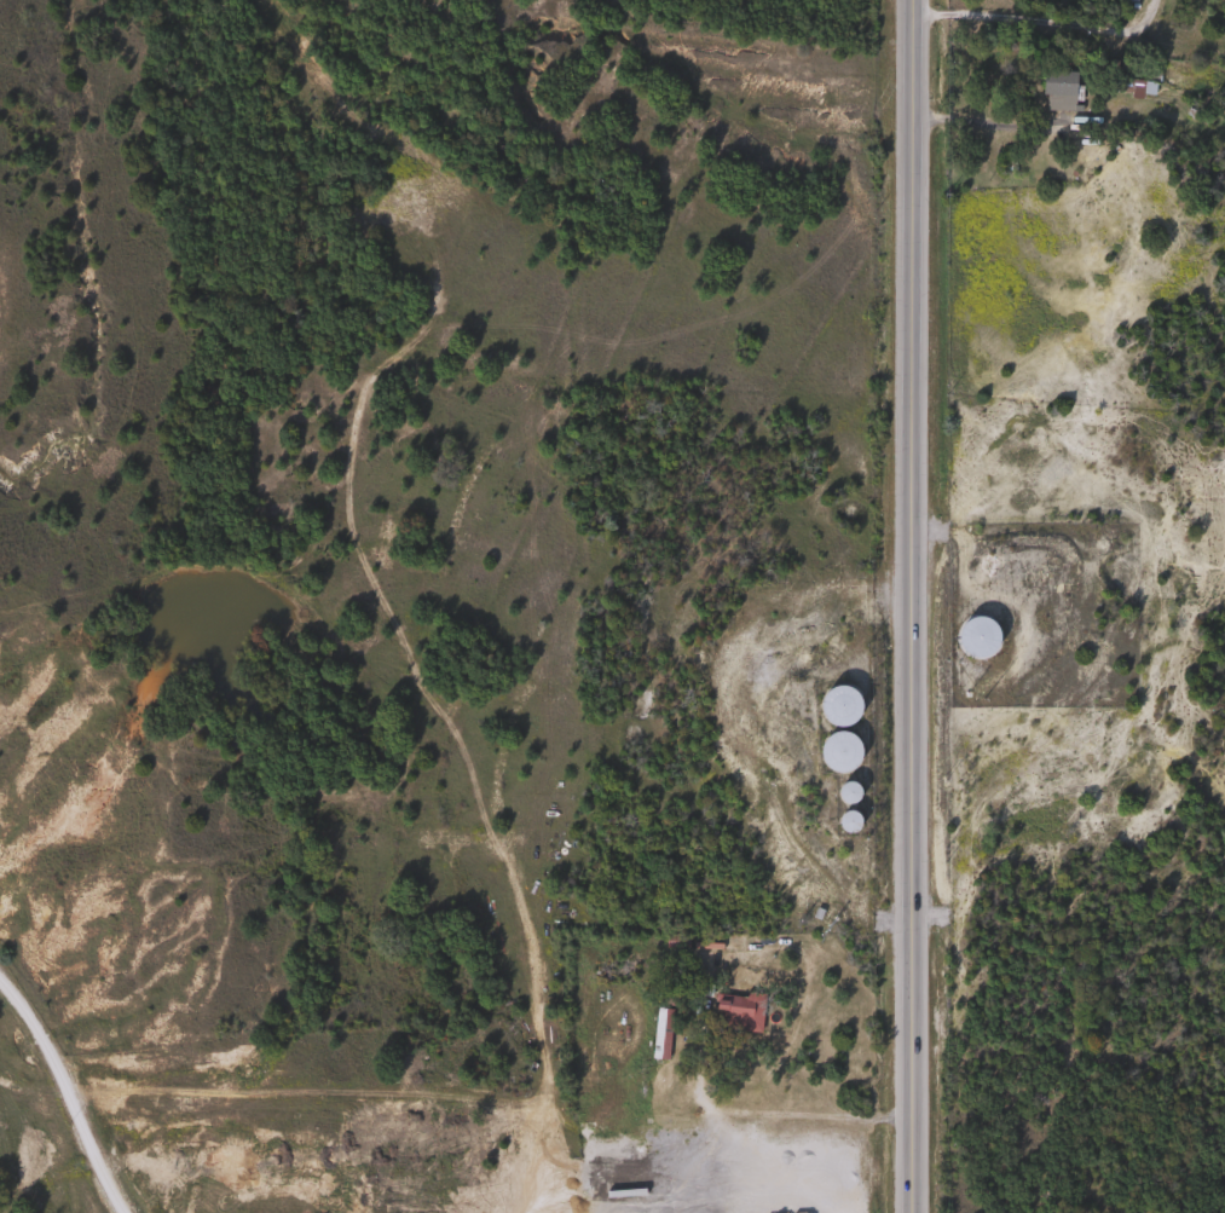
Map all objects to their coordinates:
road: (1039, 19)
building: (1057, 85)
building: (1137, 89)
road: (982, 123)
road: (1067, 270)
road: (909, 606)
building: (976, 637)
building: (838, 703)
building: (837, 751)
building: (846, 791)
building: (846, 821)
building: (734, 1012)
building: (659, 1033)
road: (71, 1091)
road: (769, 1114)
road: (759, 1180)

